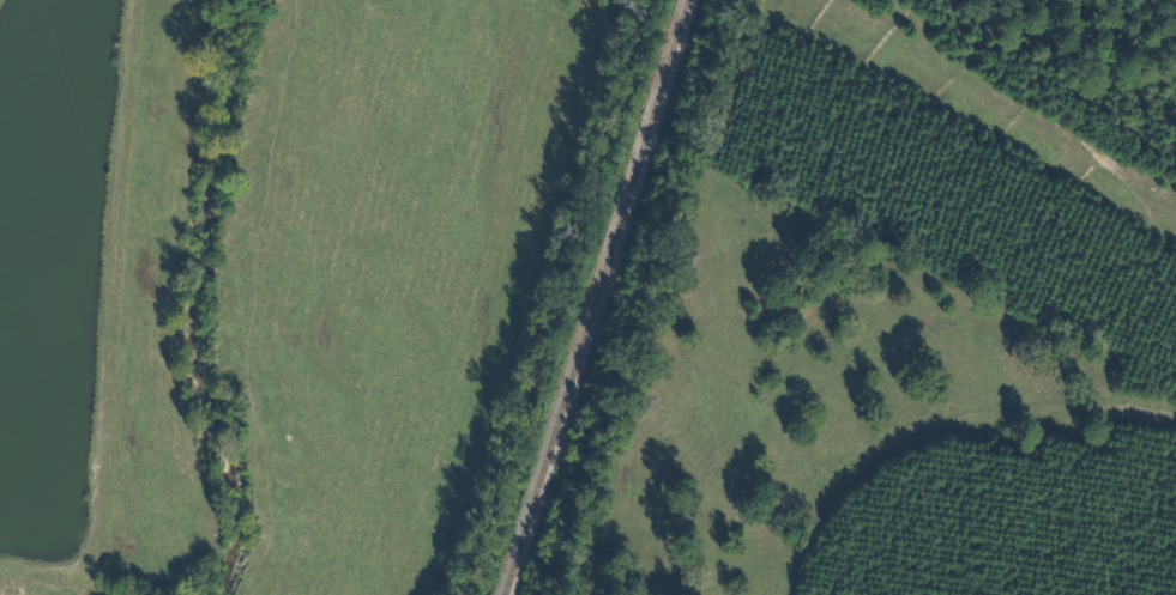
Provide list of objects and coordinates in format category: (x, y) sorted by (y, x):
railway: (591, 297)

